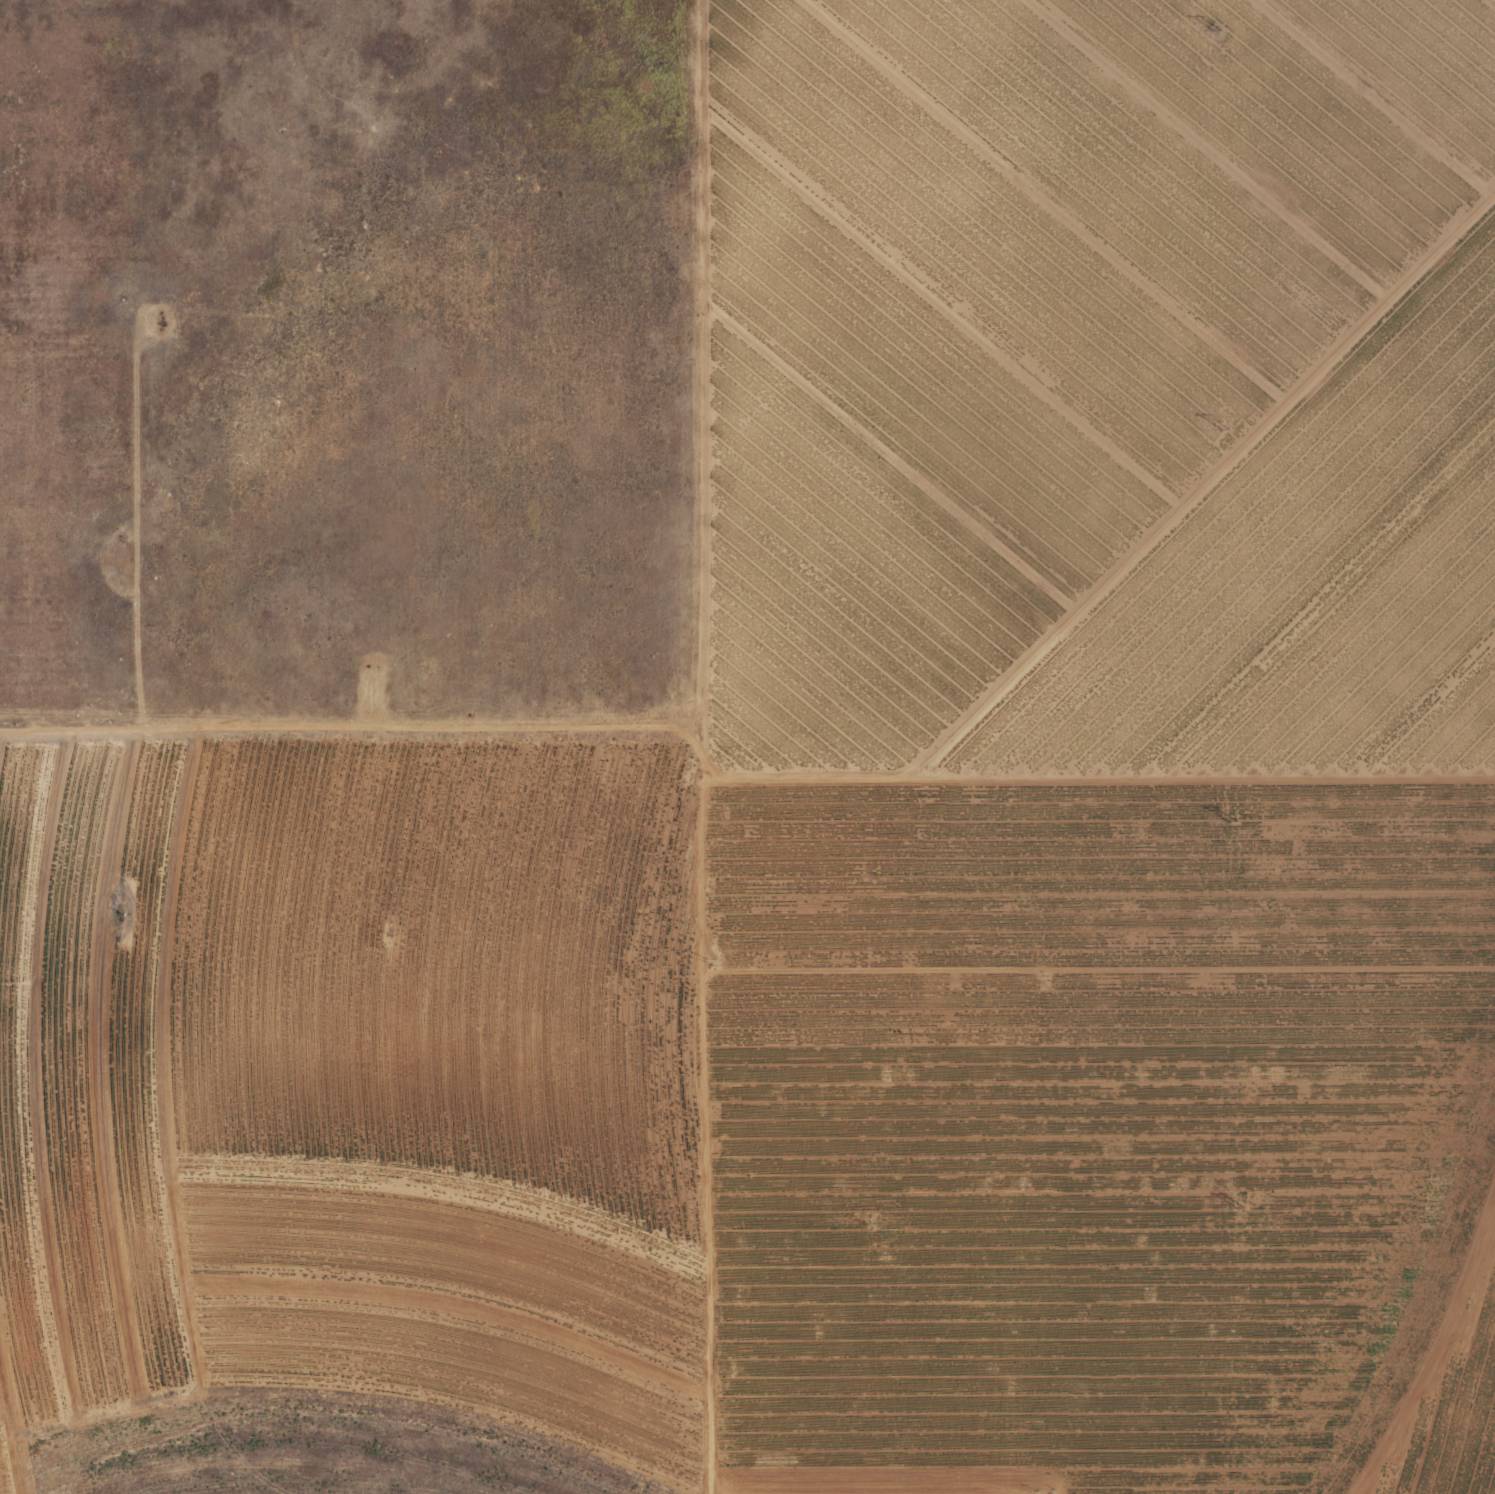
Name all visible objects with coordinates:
power tower: (1222, 30)
power tower: (1229, 428)
power tower: (1237, 820)
power tower: (1244, 1206)

